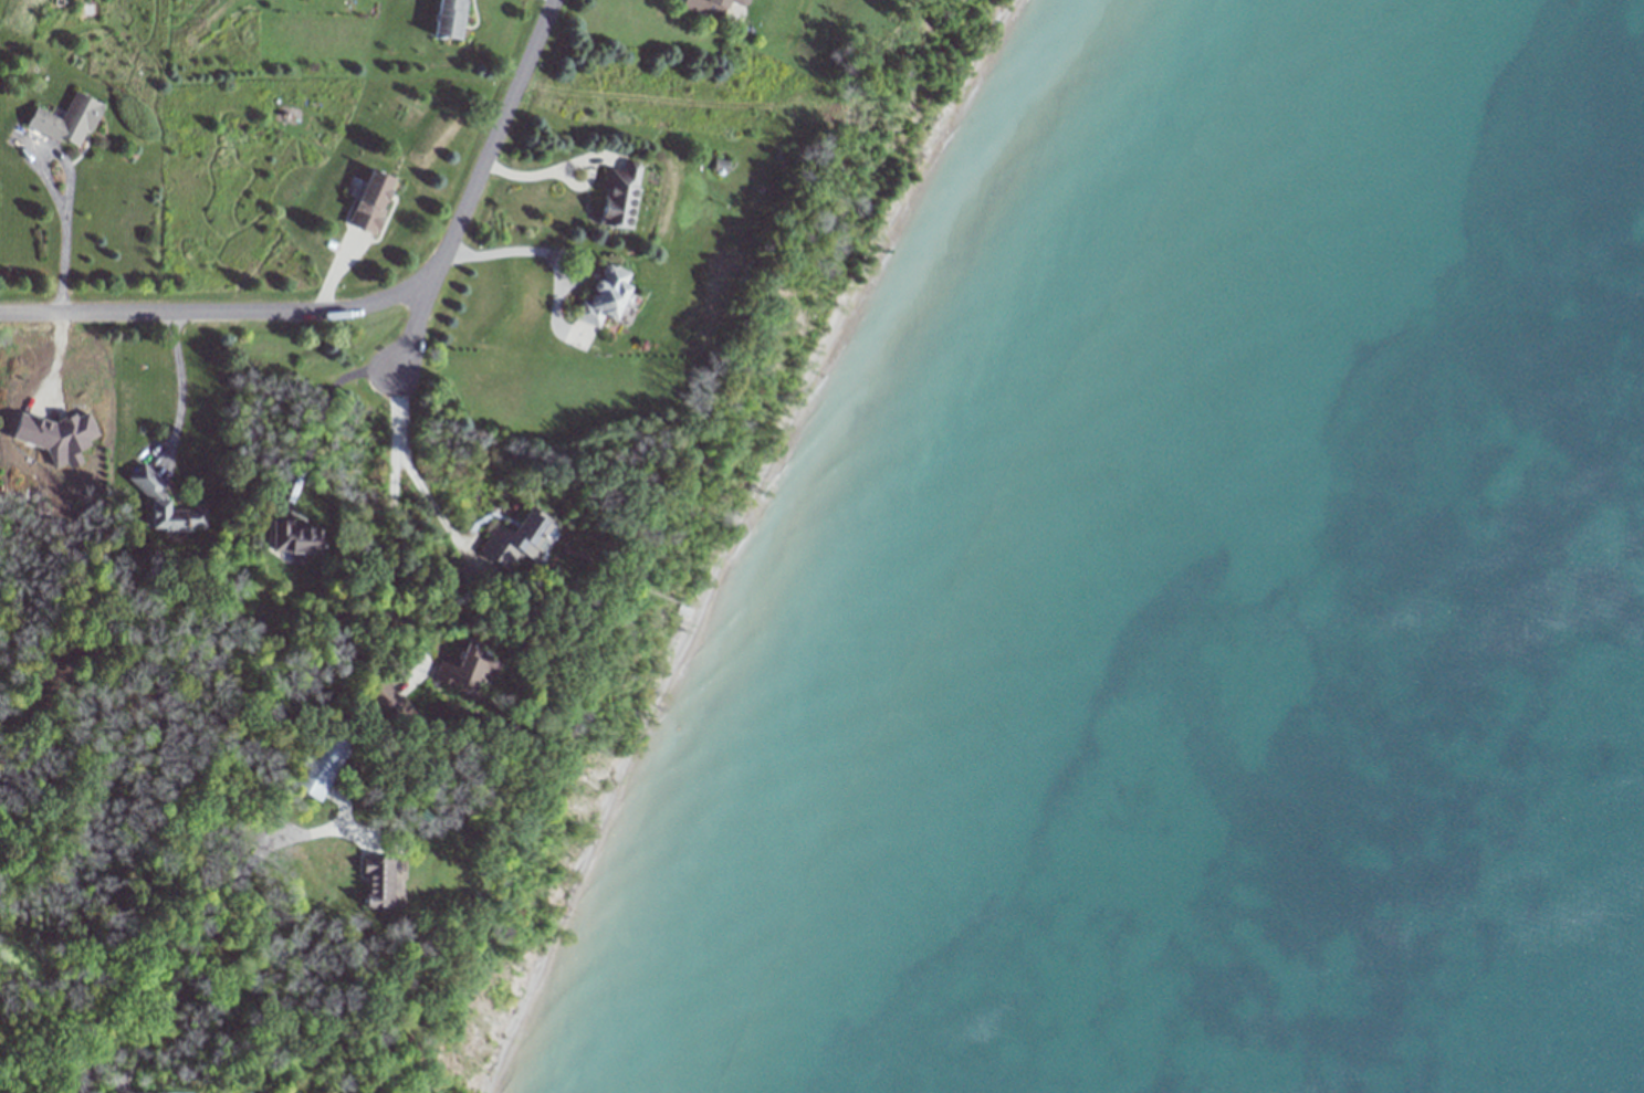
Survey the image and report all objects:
building: (708, 7)
building: (444, 19)
building: (70, 119)
road: (547, 172)
road: (67, 183)
building: (617, 198)
building: (363, 202)
road: (551, 251)
road: (367, 301)
road: (413, 324)
road: (176, 386)
road: (322, 412)
building: (160, 503)
road: (440, 513)
building: (295, 539)
building: (524, 540)
road: (388, 572)
building: (462, 668)
building: (379, 697)
building: (316, 765)
building: (388, 882)
road: (205, 936)

